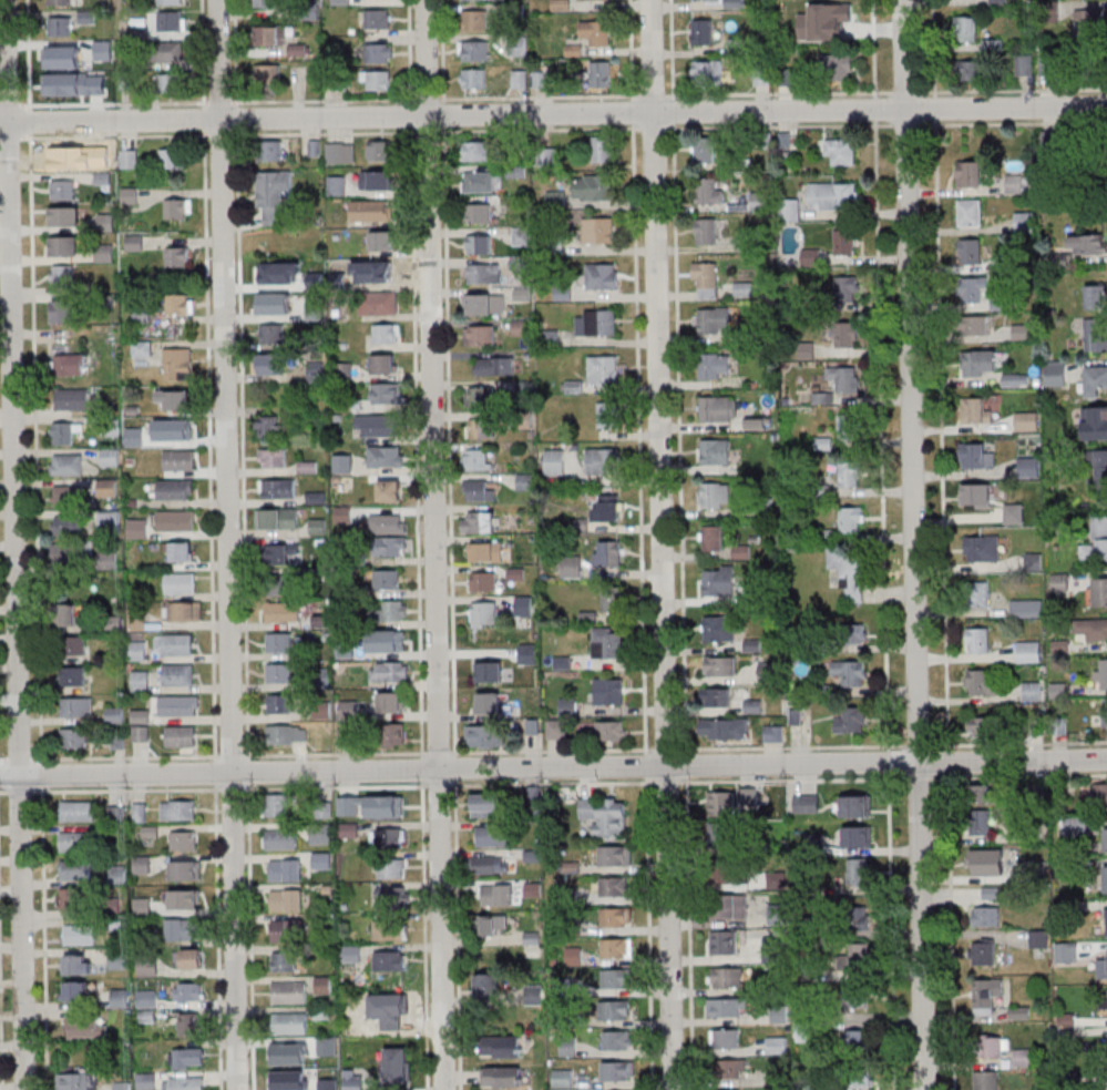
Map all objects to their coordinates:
building: (478, 0)
building: (593, 0)
building: (340, 1)
building: (60, 2)
building: (171, 2)
building: (266, 2)
building: (475, 19)
building: (379, 20)
building: (172, 21)
building: (824, 21)
building: (1089, 21)
building: (61, 26)
building: (965, 29)
building: (701, 31)
building: (273, 33)
building: (592, 35)
road: (933, 47)
road: (633, 48)
road: (672, 48)
road: (873, 48)
road: (410, 50)
road: (443, 50)
building: (170, 51)
road: (204, 52)
road: (236, 52)
building: (378, 52)
building: (476, 52)
road: (30, 53)
building: (75, 54)
building: (838, 67)
building: (703, 70)
building: (973, 70)
building: (267, 72)
building: (599, 74)
building: (473, 79)
building: (540, 79)
building: (376, 80)
building: (170, 82)
road: (1014, 90)
road: (779, 92)
road: (906, 92)
road: (650, 93)
road: (537, 95)
road: (428, 98)
road: (324, 100)
road: (221, 101)
road: (115, 103)
road: (10, 104)
road: (934, 105)
road: (874, 108)
road: (635, 111)
road: (673, 111)
road: (553, 113)
road: (411, 114)
road: (444, 114)
road: (205, 118)
road: (237, 118)
road: (30, 120)
road: (1015, 122)
road: (908, 123)
road: (780, 125)
road: (654, 128)
road: (539, 130)
road: (427, 132)
road: (325, 133)
road: (221, 135)
road: (114, 136)
road: (10, 137)
building: (269, 150)
building: (380, 150)
building: (475, 150)
building: (602, 150)
building: (839, 150)
building: (705, 151)
building: (339, 152)
building: (546, 156)
building: (66, 159)
building: (130, 159)
building: (172, 159)
building: (970, 173)
building: (376, 180)
building: (479, 181)
building: (1016, 183)
building: (336, 185)
building: (593, 187)
building: (63, 190)
building: (709, 191)
building: (130, 195)
building: (832, 195)
building: (274, 196)
building: (555, 197)
building: (758, 201)
building: (178, 208)
building: (791, 208)
building: (371, 210)
building: (479, 213)
building: (970, 213)
building: (64, 216)
building: (1024, 222)
building: (597, 230)
building: (706, 231)
building: (381, 241)
building: (134, 242)
building: (844, 242)
building: (1087, 243)
building: (479, 244)
building: (62, 246)
building: (970, 252)
building: (104, 253)
building: (177, 257)
building: (483, 274)
building: (62, 275)
building: (602, 276)
building: (297, 277)
building: (705, 279)
building: (841, 289)
building: (974, 293)
building: (1096, 296)
building: (180, 303)
building: (378, 303)
building: (484, 304)
building: (62, 310)
road: (940, 312)
building: (714, 320)
building: (595, 322)
building: (977, 325)
building: (520, 327)
building: (1024, 330)
building: (387, 333)
building: (271, 335)
building: (479, 335)
building: (845, 335)
building: (1095, 335)
building: (141, 348)
building: (980, 363)
building: (70, 364)
building: (177, 364)
building: (273, 364)
building: (383, 364)
building: (494, 365)
building: (715, 366)
building: (602, 369)
building: (344, 370)
building: (1056, 374)
building: (1015, 379)
building: (1095, 379)
building: (843, 380)
road: (910, 381)
road: (657, 383)
building: (387, 393)
building: (479, 396)
building: (173, 399)
building: (73, 400)
building: (980, 409)
building: (716, 410)
building: (607, 415)
building: (1095, 417)
building: (1027, 420)
building: (377, 425)
building: (270, 426)
building: (848, 427)
building: (111, 428)
building: (481, 428)
building: (180, 430)
building: (64, 431)
road: (881, 434)
road: (639, 438)
road: (679, 439)
road: (416, 440)
road: (450, 441)
road: (243, 445)
road: (209, 446)
road: (35, 448)
building: (716, 452)
building: (386, 456)
building: (976, 457)
building: (112, 458)
building: (273, 458)
building: (475, 459)
building: (180, 461)
building: (602, 461)
building: (344, 462)
building: (554, 462)
building: (68, 463)
building: (307, 467)
building: (1028, 467)
building: (850, 473)
building: (105, 488)
building: (279, 488)
building: (389, 490)
building: (475, 490)
building: (176, 491)
building: (69, 495)
building: (715, 496)
building: (977, 496)
building: (316, 497)
building: (609, 506)
building: (1013, 513)
building: (276, 518)
building: (851, 519)
building: (175, 520)
building: (479, 521)
building: (109, 522)
building: (66, 526)
building: (137, 529)
building: (386, 531)
building: (713, 538)
building: (1100, 538)
road: (13, 544)
road: (227, 544)
road: (434, 544)
building: (982, 548)
building: (180, 551)
building: (485, 551)
building: (68, 552)
building: (279, 553)
building: (607, 553)
building: (109, 561)
building: (1034, 561)
building: (571, 566)
building: (848, 571)
building: (387, 578)
building: (483, 581)
building: (718, 581)
building: (180, 583)
building: (281, 584)
building: (1100, 591)
building: (978, 593)
building: (611, 599)
building: (1026, 608)
building: (394, 610)
building: (186, 611)
building: (281, 612)
building: (483, 614)
building: (65, 615)
building: (136, 622)
building: (719, 628)
building: (1095, 629)
road: (945, 630)
building: (854, 632)
building: (977, 641)
building: (279, 642)
building: (607, 642)
building: (177, 644)
building: (73, 645)
building: (385, 648)
building: (137, 650)
building: (1028, 652)
building: (720, 666)
building: (389, 671)
building: (490, 671)
building: (768, 671)
building: (278, 672)
building: (1103, 672)
building: (850, 673)
building: (178, 674)
building: (73, 676)
building: (140, 682)
building: (981, 682)
building: (608, 691)
building: (1032, 691)
building: (717, 697)
building: (390, 702)
building: (488, 702)
building: (281, 703)
building: (178, 705)
building: (76, 707)
building: (347, 710)
building: (114, 714)
building: (1098, 715)
building: (854, 720)
building: (980, 726)
building: (555, 729)
building: (726, 729)
building: (611, 731)
building: (772, 733)
building: (141, 734)
building: (279, 734)
building: (391, 734)
building: (345, 735)
building: (485, 735)
building: (181, 736)
building: (76, 737)
road: (1018, 743)
road: (790, 746)
road: (916, 746)
road: (665, 748)
road: (551, 751)
road: (438, 753)
road: (335, 754)
road: (230, 755)
road: (125, 757)
road: (2, 758)
road: (18, 758)
road: (888, 761)
road: (947, 763)
road: (645, 764)
road: (687, 766)
road: (421, 767)
road: (455, 767)
road: (553, 767)
road: (248, 770)
road: (215, 772)
road: (41, 775)
road: (1018, 775)
road: (793, 778)
road: (919, 778)
road: (552, 782)
road: (667, 782)
road: (439, 784)
road: (336, 786)
road: (233, 788)
road: (125, 790)
road: (19, 791)
road: (4, 792)
building: (977, 793)
building: (1100, 794)
building: (809, 803)
building: (278, 804)
building: (483, 804)
building: (722, 804)
building: (854, 805)
building: (386, 806)
building: (177, 809)
building: (78, 811)
building: (139, 813)
building: (117, 814)
building: (609, 824)
building: (978, 824)
building: (1076, 826)
building: (349, 829)
building: (321, 834)
building: (721, 834)
building: (492, 835)
building: (855, 836)
building: (392, 837)
building: (280, 838)
building: (1106, 839)
building: (183, 841)
building: (74, 842)
building: (611, 855)
building: (533, 856)
building: (321, 860)
building: (490, 864)
building: (985, 864)
building: (142, 865)
building: (571, 867)
building: (391, 868)
building: (75, 869)
building: (286, 869)
building: (184, 870)
building: (857, 872)
building: (730, 873)
building: (117, 876)
building: (1106, 877)
building: (612, 886)
building: (533, 889)
building: (991, 893)
building: (498, 894)
building: (568, 895)
building: (393, 897)
building: (69, 898)
building: (184, 898)
building: (286, 899)
building: (112, 906)
building: (728, 906)
building: (142, 907)
building: (613, 916)
building: (777, 916)
building: (985, 917)
building: (491, 923)
building: (572, 926)
road: (921, 926)
building: (1106, 926)
road: (668, 927)
building: (182, 929)
building: (390, 929)
building: (288, 930)
road: (890, 931)
road: (950, 931)
road: (648, 933)
building: (79, 934)
road: (458, 934)
road: (689, 934)
road: (250, 935)
road: (426, 935)
road: (217, 936)
road: (44, 938)
building: (1035, 938)
building: (724, 943)
building: (617, 948)
building: (771, 950)
building: (983, 951)
building: (352, 954)
building: (573, 956)
building: (857, 956)
building: (117, 959)
building: (191, 959)
building: (390, 959)
building: (284, 961)
building: (76, 964)
building: (1106, 966)
building: (148, 968)
building: (729, 977)
building: (614, 978)
building: (324, 985)
building: (488, 986)
building: (563, 987)
building: (74, 991)
building: (188, 991)
building: (289, 992)
building: (986, 995)
building: (533, 997)
building: (120, 999)
building: (147, 999)
building: (853, 999)
building: (1106, 1002)
building: (726, 1007)
building: (614, 1010)
building: (321, 1013)
building: (146, 1016)
building: (398, 1017)
building: (575, 1020)
building: (189, 1023)
building: (289, 1023)
building: (85, 1028)
building: (353, 1028)
building: (806, 1031)
building: (726, 1038)
building: (615, 1040)
building: (858, 1041)
road: (0, 1042)
building: (777, 1045)
building: (502, 1046)
building: (326, 1047)
building: (567, 1047)
building: (993, 1048)
building: (289, 1053)
building: (187, 1057)
building: (1023, 1058)
building: (397, 1064)
building: (730, 1067)
building: (615, 1071)
building: (502, 1077)
building: (860, 1077)
building: (563, 1078)
building: (289, 1080)
building: (73, 1081)
building: (146, 1081)
building: (986, 1081)
building: (353, 1082)
building: (186, 1083)
building: (327, 1084)
building: (122, 1086)

